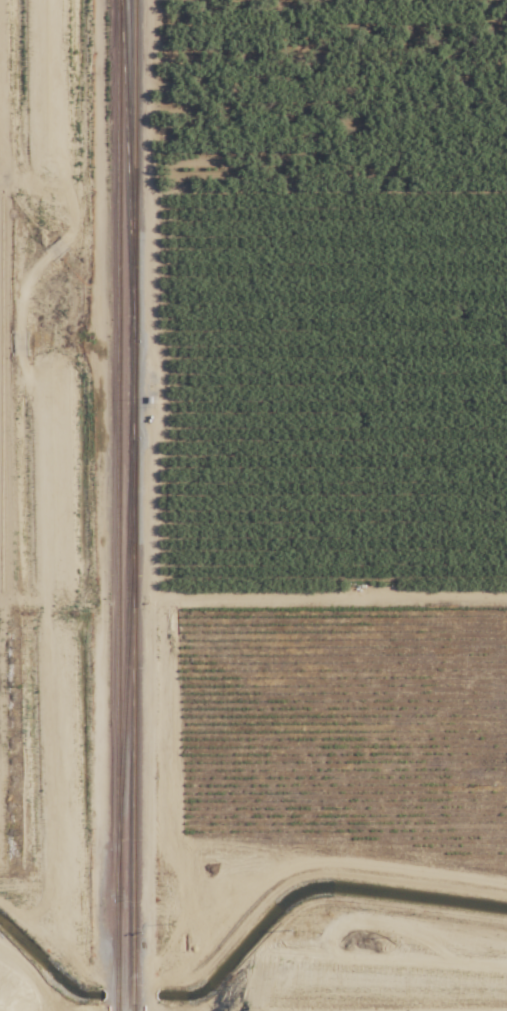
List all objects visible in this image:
railway: (127, 127)
railway: (134, 127)
railway: (133, 374)
crop: (332, 399)
railway: (119, 410)
railway: (45, 505)
railway: (59, 505)
railway: (125, 657)
railway: (133, 752)
railway: (119, 916)

